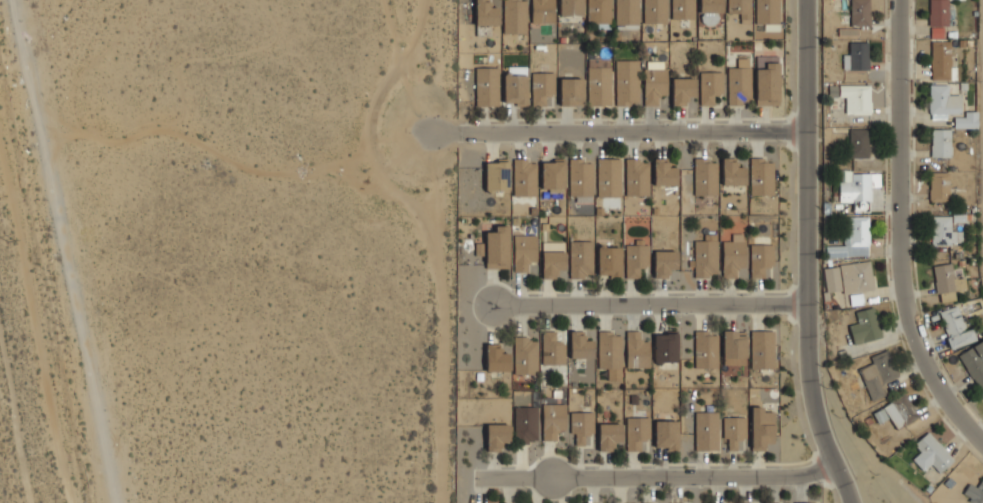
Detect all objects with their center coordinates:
building: (710, 6)
building: (570, 7)
building: (739, 7)
building: (682, 9)
building: (542, 11)
building: (598, 11)
building: (654, 11)
building: (767, 11)
building: (938, 12)
building: (485, 13)
building: (626, 13)
building: (859, 13)
building: (514, 16)
building: (848, 31)
building: (856, 56)
building: (940, 60)
road: (417, 68)
building: (627, 79)
building: (599, 81)
building: (738, 83)
building: (515, 85)
building: (654, 85)
building: (486, 86)
building: (541, 87)
building: (709, 87)
building: (767, 87)
building: (682, 89)
building: (571, 92)
building: (857, 97)
building: (942, 102)
building: (966, 120)
road: (610, 134)
building: (858, 143)
building: (940, 143)
building: (663, 172)
building: (732, 172)
building: (496, 175)
building: (553, 175)
building: (609, 175)
building: (705, 176)
building: (636, 177)
building: (761, 177)
building: (523, 178)
building: (580, 180)
building: (939, 186)
building: (855, 187)
road: (901, 230)
building: (944, 231)
building: (853, 239)
power tower: (11, 242)
building: (497, 248)
building: (635, 252)
building: (733, 255)
road: (807, 255)
building: (581, 256)
building: (705, 257)
building: (552, 258)
building: (760, 260)
building: (609, 261)
building: (664, 261)
building: (520, 262)
building: (856, 277)
building: (832, 278)
building: (943, 278)
road: (650, 305)
building: (865, 326)
building: (955, 328)
building: (578, 339)
building: (666, 346)
building: (739, 346)
building: (762, 348)
building: (552, 349)
building: (609, 349)
building: (636, 350)
building: (705, 350)
building: (525, 356)
building: (496, 358)
building: (974, 362)
building: (876, 375)
building: (981, 396)
building: (903, 409)
building: (552, 420)
building: (526, 423)
building: (581, 426)
building: (761, 428)
building: (706, 430)
building: (733, 431)
building: (636, 432)
building: (666, 434)
building: (496, 436)
building: (608, 436)
building: (931, 452)
road: (664, 477)
building: (974, 492)
building: (675, 502)
building: (724, 502)
building: (755, 502)
building: (773, 502)
building: (806, 502)

